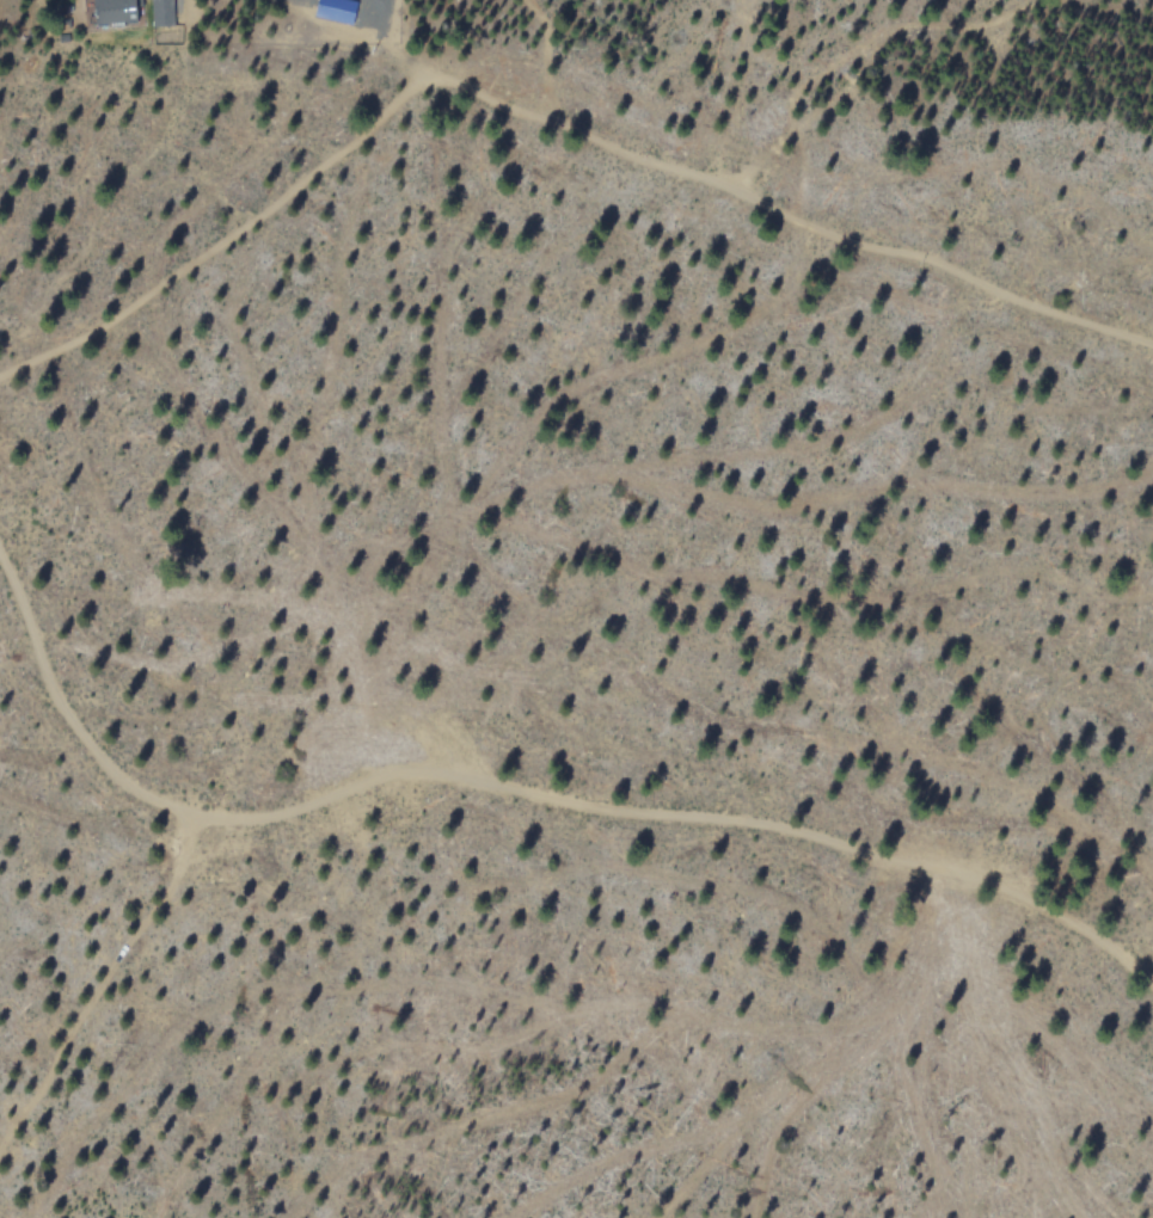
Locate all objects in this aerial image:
building: (337, 10)
building: (115, 11)
building: (162, 12)
road: (540, 115)
road: (520, 795)
road: (103, 988)

